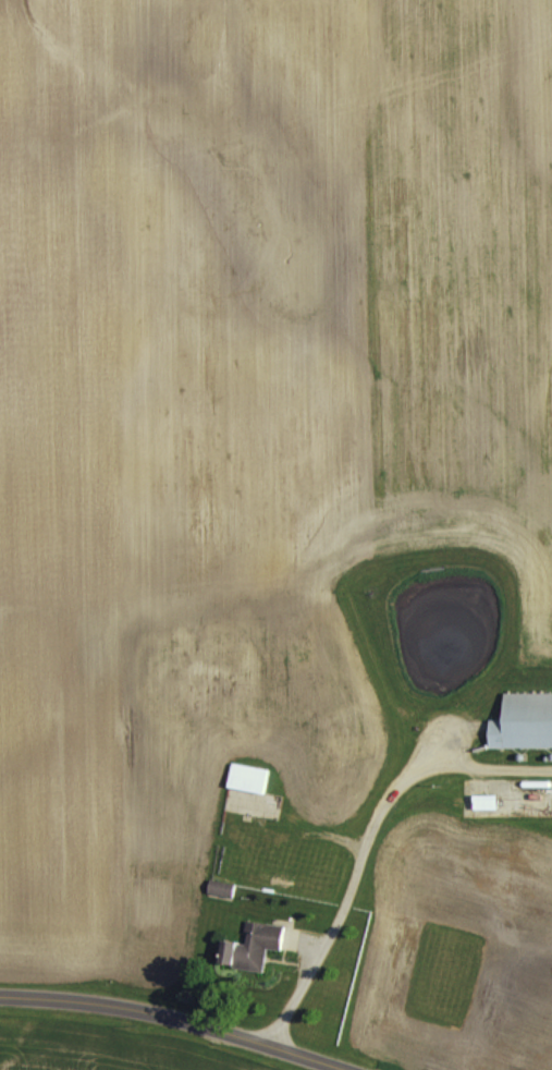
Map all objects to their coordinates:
building: (524, 719)
building: (247, 775)
building: (484, 800)
building: (254, 801)
building: (221, 886)
building: (252, 945)
road: (174, 1019)

